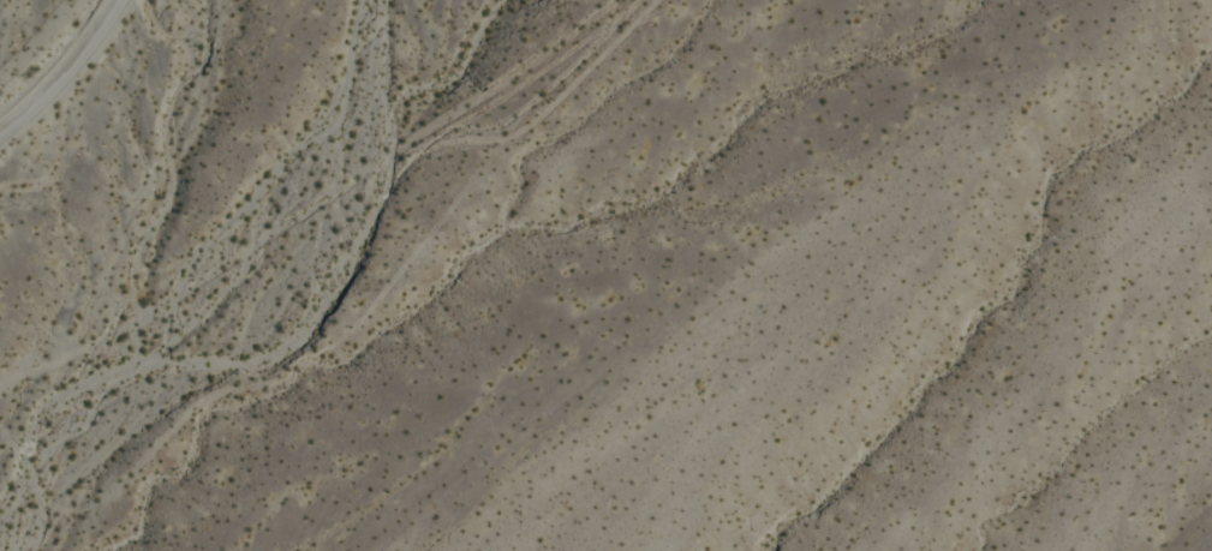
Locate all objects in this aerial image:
road: (67, 72)

